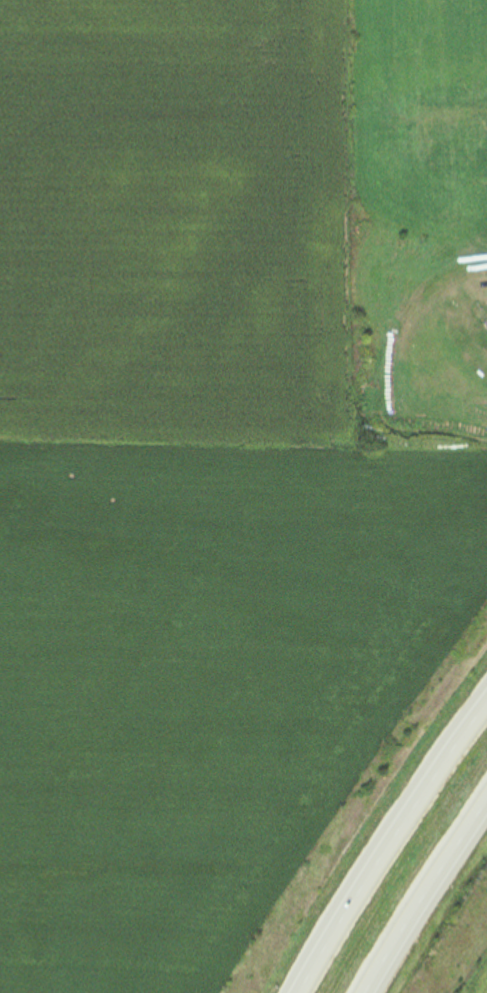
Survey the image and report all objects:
road: (389, 849)
road: (425, 900)

